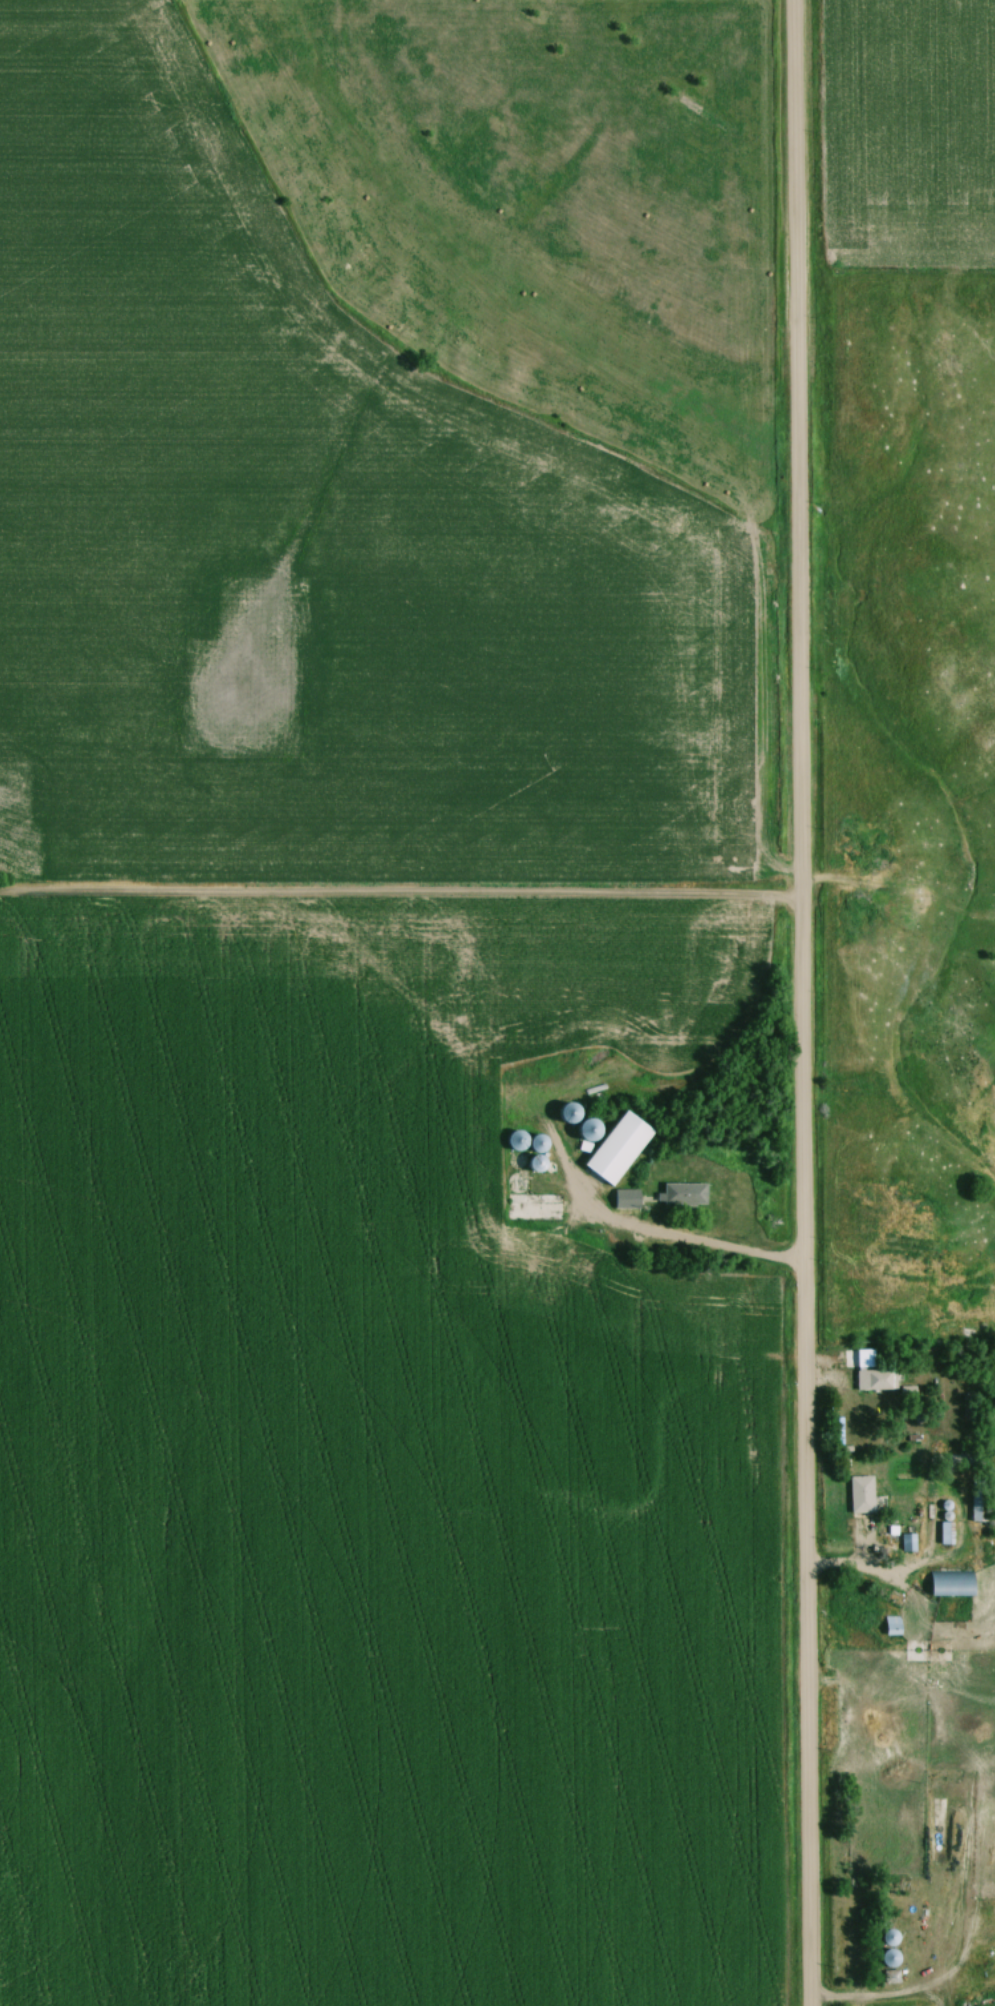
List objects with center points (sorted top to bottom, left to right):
road: (796, 1003)
building: (620, 1148)
building: (684, 1193)
building: (628, 1198)
road: (709, 1246)
building: (859, 1358)
building: (876, 1379)
building: (968, 1407)
building: (959, 1459)
building: (861, 1494)
building: (979, 1500)
building: (946, 1532)
building: (908, 1542)
building: (952, 1583)
building: (893, 1622)
building: (979, 1660)
building: (890, 1948)

